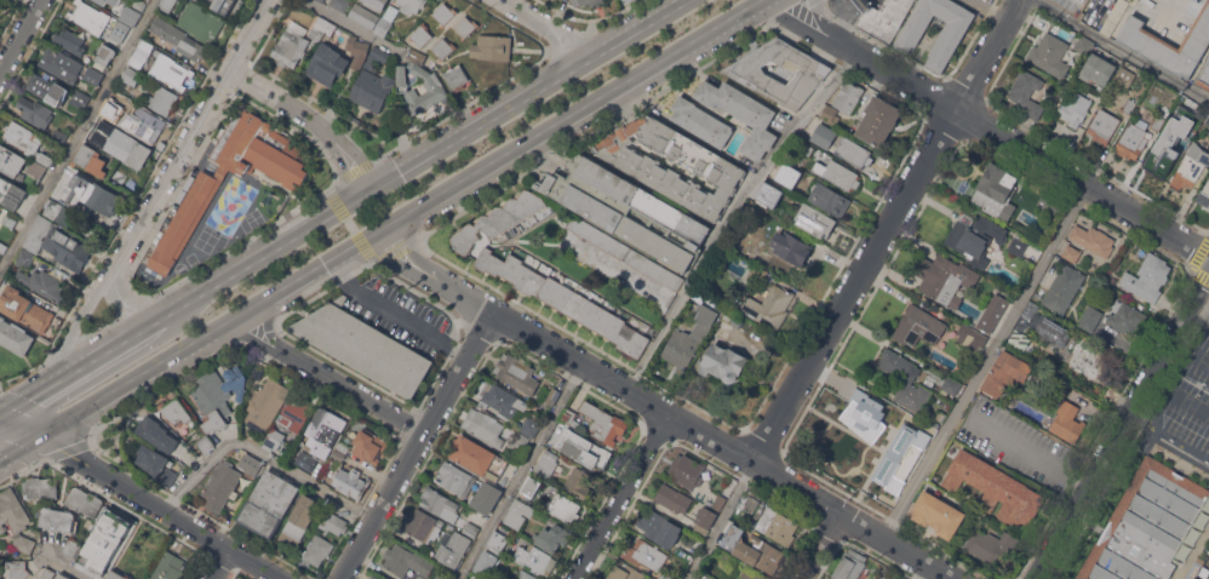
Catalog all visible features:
building: (321, 0)
building: (621, 0)
building: (1130, 0)
building: (0, 1)
building: (109, 1)
building: (626, 1)
building: (1134, 1)
building: (590, 2)
building: (138, 4)
building: (166, 4)
building: (340, 4)
building: (376, 4)
building: (224, 5)
building: (411, 5)
road: (1090, 5)
building: (445, 13)
building: (128, 15)
building: (365, 15)
building: (1115, 16)
building: (90, 17)
building: (886, 18)
building: (201, 21)
building: (386, 21)
building: (465, 25)
road: (555, 25)
road: (642, 25)
road: (356, 28)
building: (331, 29)
building: (319, 30)
building: (119, 31)
building: (911, 33)
road: (21, 35)
building: (420, 35)
building: (69, 39)
building: (179, 40)
building: (141, 42)
building: (1168, 42)
building: (292, 45)
road: (557, 45)
building: (1083, 45)
building: (492, 47)
building: (443, 48)
road: (1119, 50)
building: (357, 51)
building: (105, 53)
building: (1050, 53)
building: (418, 56)
building: (376, 58)
building: (132, 59)
building: (61, 63)
building: (328, 64)
building: (1098, 69)
building: (171, 70)
building: (401, 74)
building: (93, 75)
building: (1124, 75)
building: (491, 76)
building: (455, 78)
building: (1204, 78)
building: (128, 79)
building: (757, 79)
building: (46, 87)
building: (372, 90)
building: (436, 91)
building: (1027, 92)
building: (848, 96)
building: (80, 98)
building: (161, 99)
road: (281, 101)
building: (1129, 105)
building: (109, 109)
building: (1076, 109)
building: (35, 111)
building: (743, 114)
building: (830, 114)
building: (701, 121)
building: (877, 121)
building: (1158, 121)
building: (144, 124)
building: (1102, 126)
road: (201, 127)
road: (989, 128)
road: (76, 133)
building: (1188, 133)
building: (59, 134)
building: (824, 134)
building: (1135, 136)
building: (27, 141)
building: (125, 145)
building: (806, 147)
building: (259, 149)
road: (357, 151)
building: (854, 153)
building: (1161, 155)
building: (10, 157)
building: (91, 159)
building: (1191, 166)
road: (345, 167)
building: (716, 168)
building: (220, 172)
building: (841, 174)
building: (33, 177)
building: (784, 178)
building: (768, 187)
road: (365, 191)
building: (997, 191)
building: (10, 193)
building: (57, 195)
building: (1204, 195)
building: (102, 197)
building: (831, 200)
building: (1049, 202)
building: (628, 210)
building: (59, 213)
road: (729, 214)
road: (405, 217)
building: (498, 219)
building: (10, 220)
building: (815, 220)
building: (184, 222)
road: (881, 230)
building: (976, 239)
building: (1094, 239)
building: (58, 243)
building: (1018, 246)
building: (2, 247)
building: (791, 247)
road: (411, 250)
building: (626, 253)
building: (1072, 253)
building: (24, 257)
road: (395, 259)
building: (756, 274)
building: (150, 275)
building: (1147, 277)
building: (634, 279)
building: (945, 279)
road: (1198, 281)
building: (41, 282)
building: (1064, 288)
building: (566, 300)
road: (137, 302)
building: (770, 305)
road: (1198, 305)
building: (25, 309)
building: (1026, 314)
road: (396, 315)
building: (989, 315)
building: (1125, 316)
building: (1090, 317)
building: (737, 322)
building: (918, 326)
road: (80, 327)
building: (1053, 331)
building: (15, 336)
building: (972, 337)
building: (688, 339)
building: (1019, 340)
building: (365, 346)
building: (1084, 360)
building: (722, 362)
road: (985, 362)
road: (1179, 372)
building: (517, 373)
building: (1007, 373)
road: (67, 378)
road: (327, 380)
building: (906, 380)
building: (952, 385)
building: (218, 395)
building: (554, 396)
building: (503, 399)
building: (267, 402)
building: (174, 411)
building: (297, 411)
building: (864, 415)
building: (569, 417)
building: (604, 423)
building: (1067, 423)
building: (483, 426)
building: (531, 426)
road: (688, 429)
building: (323, 430)
building: (157, 434)
traffic signals: (41, 435)
road: (1167, 435)
building: (253, 436)
building: (275, 438)
building: (562, 438)
road: (1106, 438)
building: (205, 442)
building: (343, 446)
building: (369, 446)
road: (21, 447)
road: (417, 447)
road: (1027, 453)
road: (263, 454)
building: (338, 454)
building: (479, 458)
building: (305, 460)
building: (256, 464)
building: (546, 464)
building: (156, 466)
building: (689, 470)
road: (520, 474)
building: (454, 477)
building: (350, 482)
building: (578, 482)
building: (220, 485)
building: (41, 487)
building: (531, 487)
building: (995, 488)
building: (723, 493)
road: (143, 497)
building: (487, 497)
building: (672, 498)
road: (623, 499)
building: (85, 501)
building: (268, 503)
building: (440, 504)
building: (563, 508)
building: (517, 514)
building: (938, 514)
building: (706, 516)
building: (16, 518)
building: (58, 518)
building: (299, 520)
road: (721, 521)
building: (116, 522)
building: (333, 522)
building: (778, 524)
building: (422, 526)
building: (1150, 526)
building: (660, 528)
building: (471, 529)
building: (552, 537)
building: (107, 538)
building: (499, 541)
building: (991, 544)
building: (71, 548)
building: (453, 549)
building: (752, 549)
road: (824, 549)
building: (319, 550)
building: (644, 554)
building: (683, 554)
building: (96, 556)
building: (406, 560)
building: (535, 560)
building: (486, 563)
road: (224, 564)
building: (852, 566)
road: (64, 567)
building: (168, 567)
building: (18, 569)
road: (918, 571)
building: (1193, 571)
building: (625, 572)
building: (528, 573)
building: (0, 574)
building: (47, 574)
building: (751, 574)
building: (118, 575)
building: (665, 575)
building: (62, 577)
building: (374, 577)
building: (888, 577)
building: (1208, 577)
building: (1, 578)

